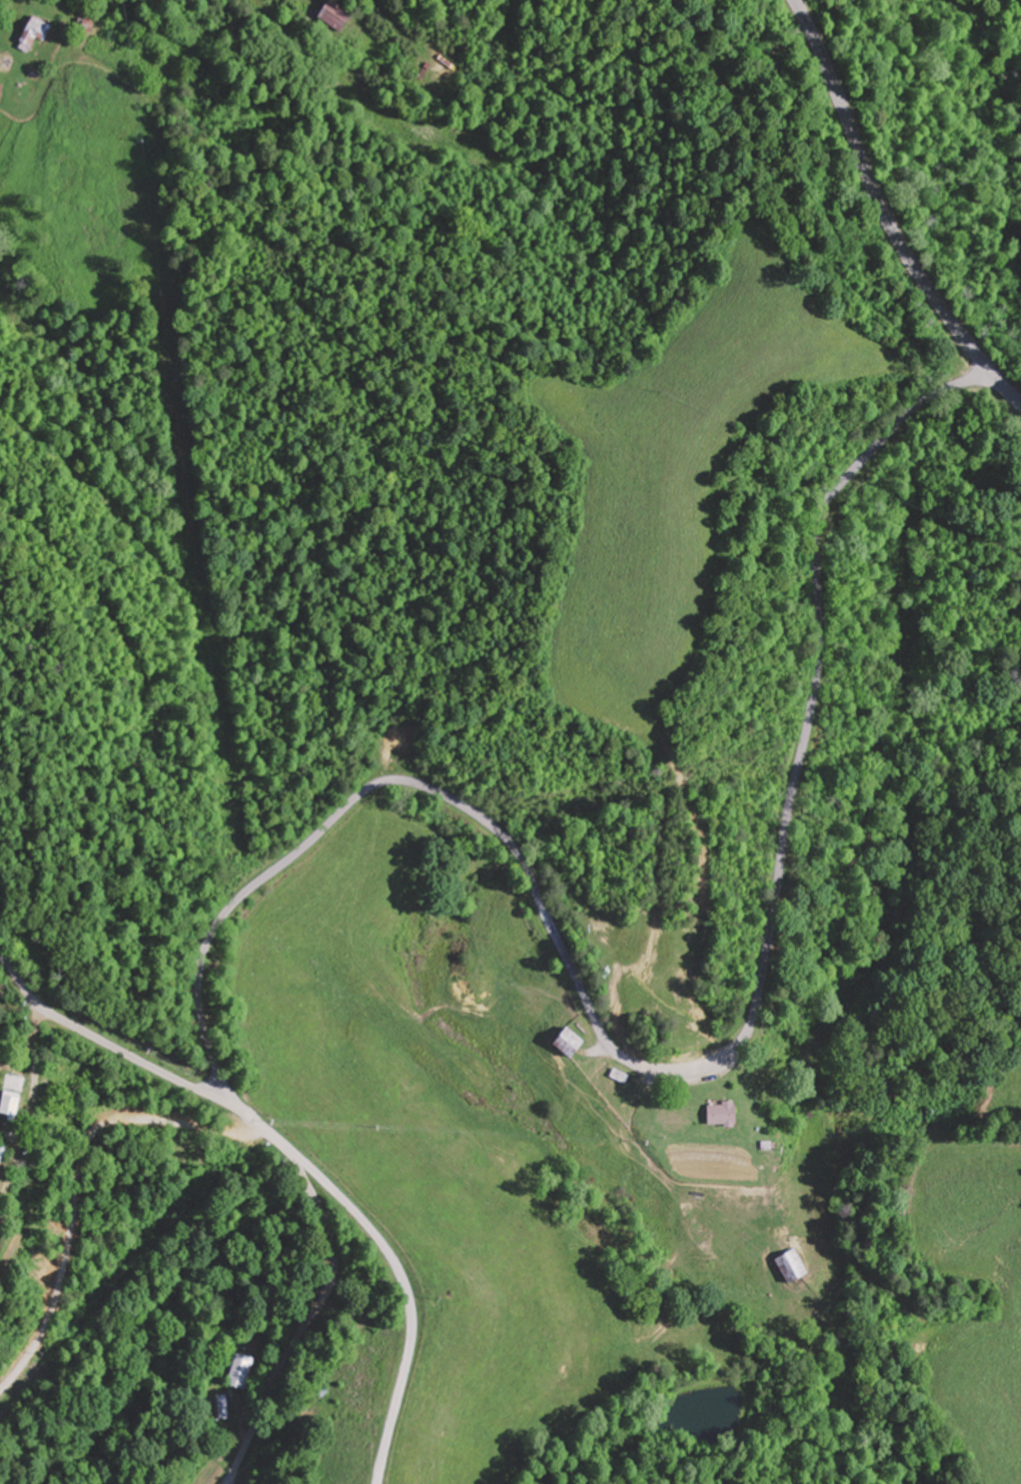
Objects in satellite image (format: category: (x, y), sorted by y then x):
building: (327, 16)
building: (83, 25)
building: (31, 33)
building: (167, 89)
building: (0, 100)
road: (886, 214)
road: (203, 1016)
road: (750, 1026)
building: (558, 1043)
building: (5, 1105)
building: (714, 1116)
building: (665, 1120)
road: (299, 1161)
road: (116, 1237)
building: (784, 1266)
building: (237, 1372)
building: (218, 1407)

